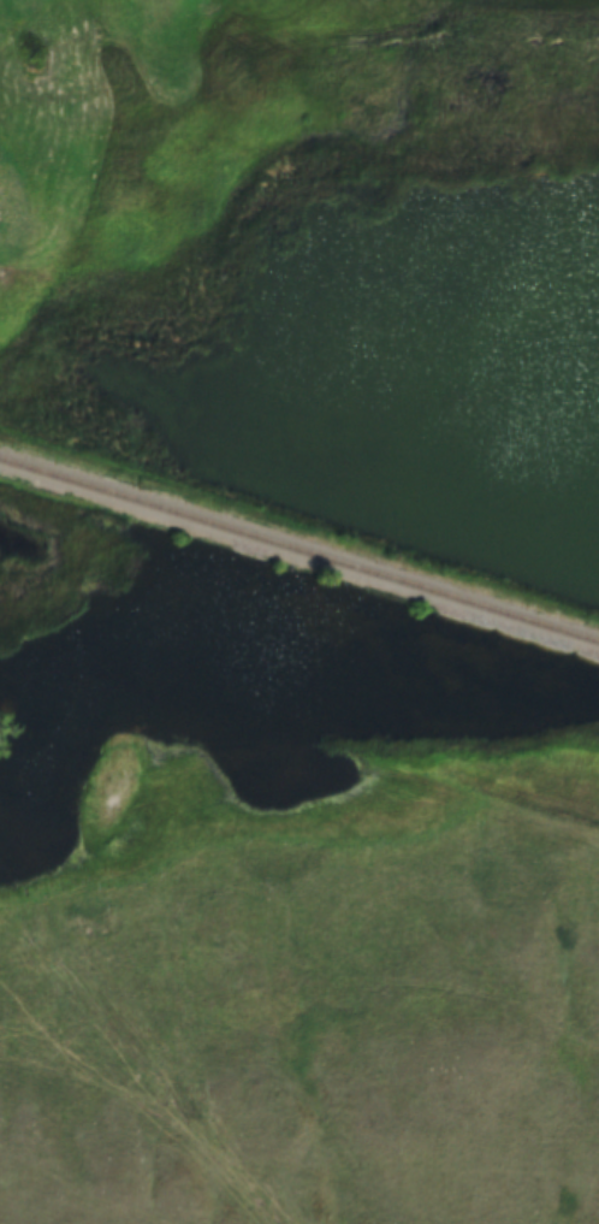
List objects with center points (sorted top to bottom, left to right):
railway: (299, 524)

